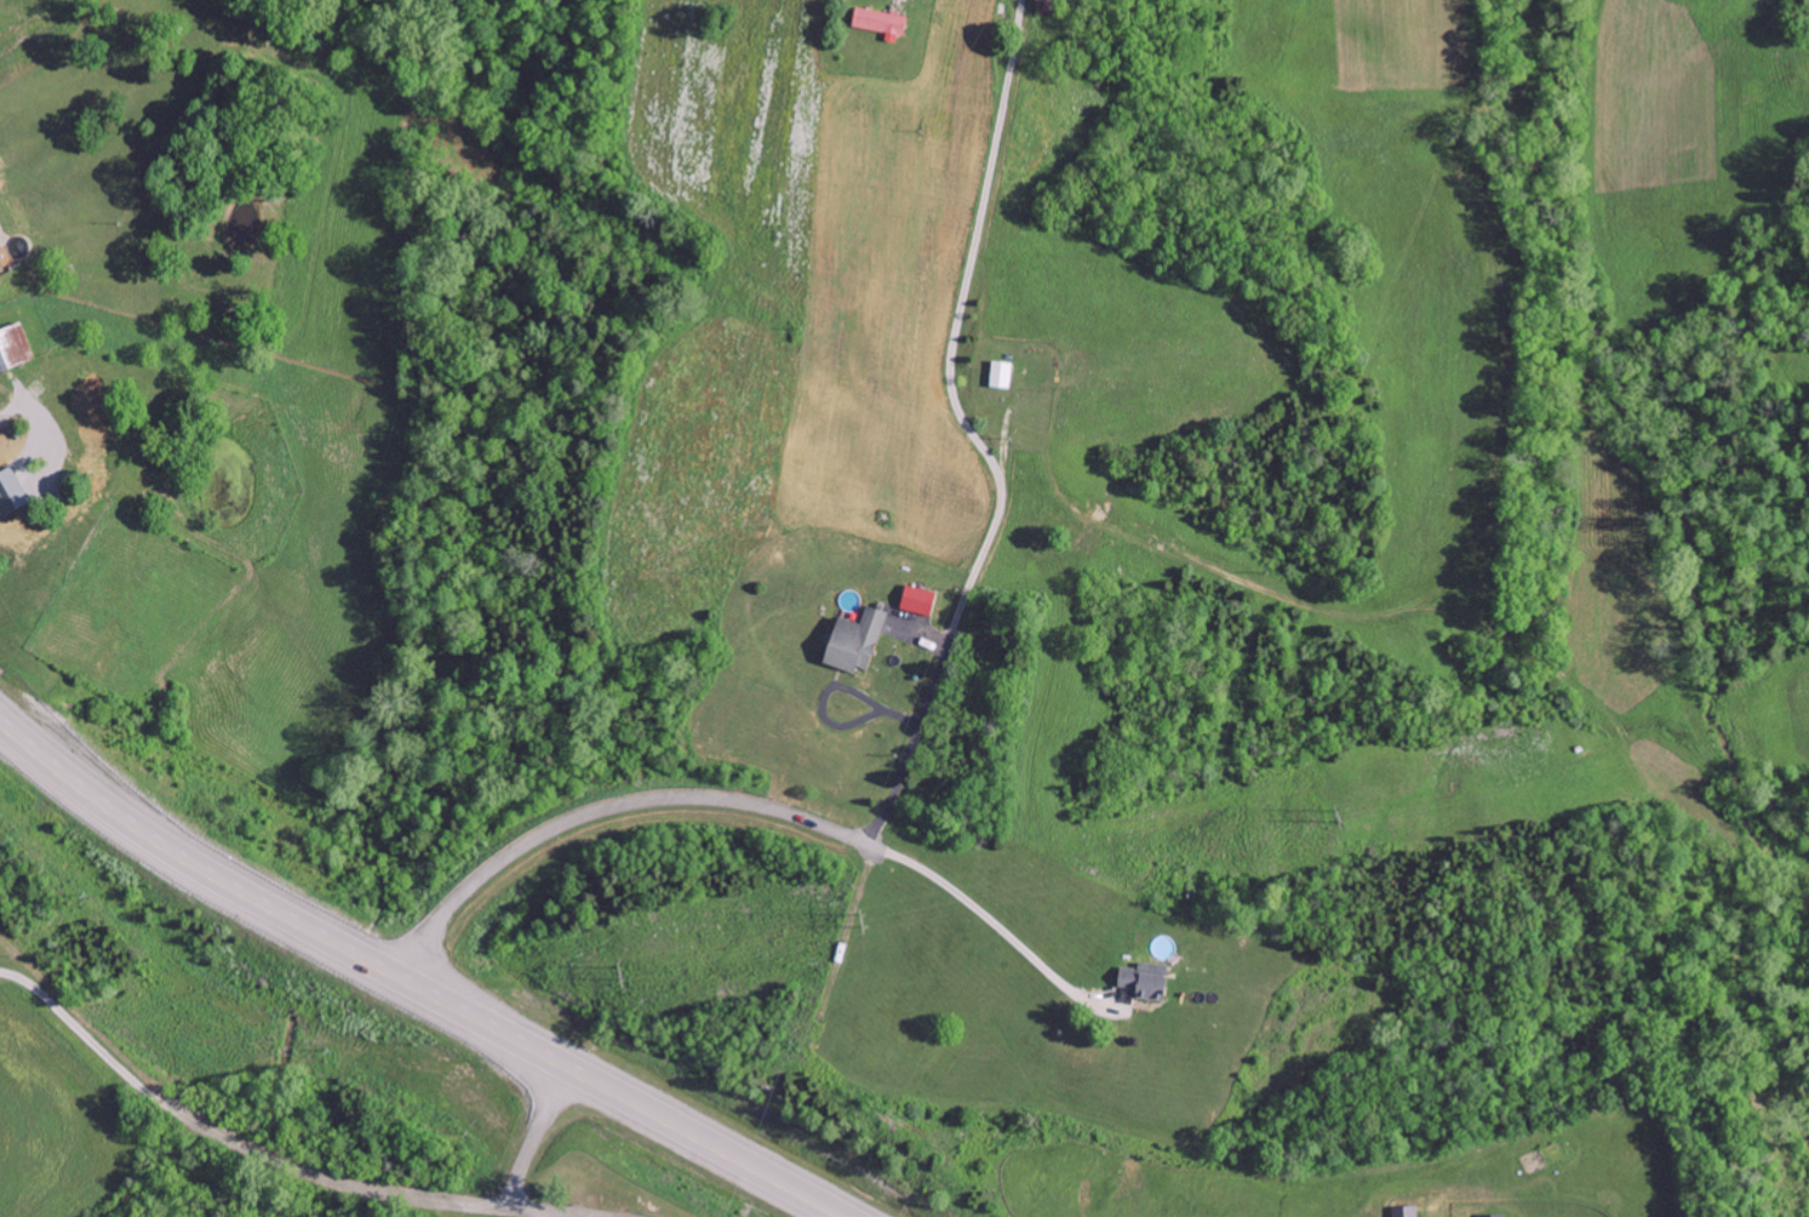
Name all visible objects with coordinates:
building: (1051, 6)
building: (882, 22)
building: (0, 272)
building: (15, 348)
building: (1003, 375)
building: (920, 600)
building: (858, 641)
park: (980, 710)
road: (681, 801)
power tower: (1345, 822)
road: (275, 912)
power tower: (865, 926)
road: (439, 935)
power tower: (625, 979)
building: (1147, 985)
road: (702, 1144)
road: (527, 1147)
building: (1493, 1215)

